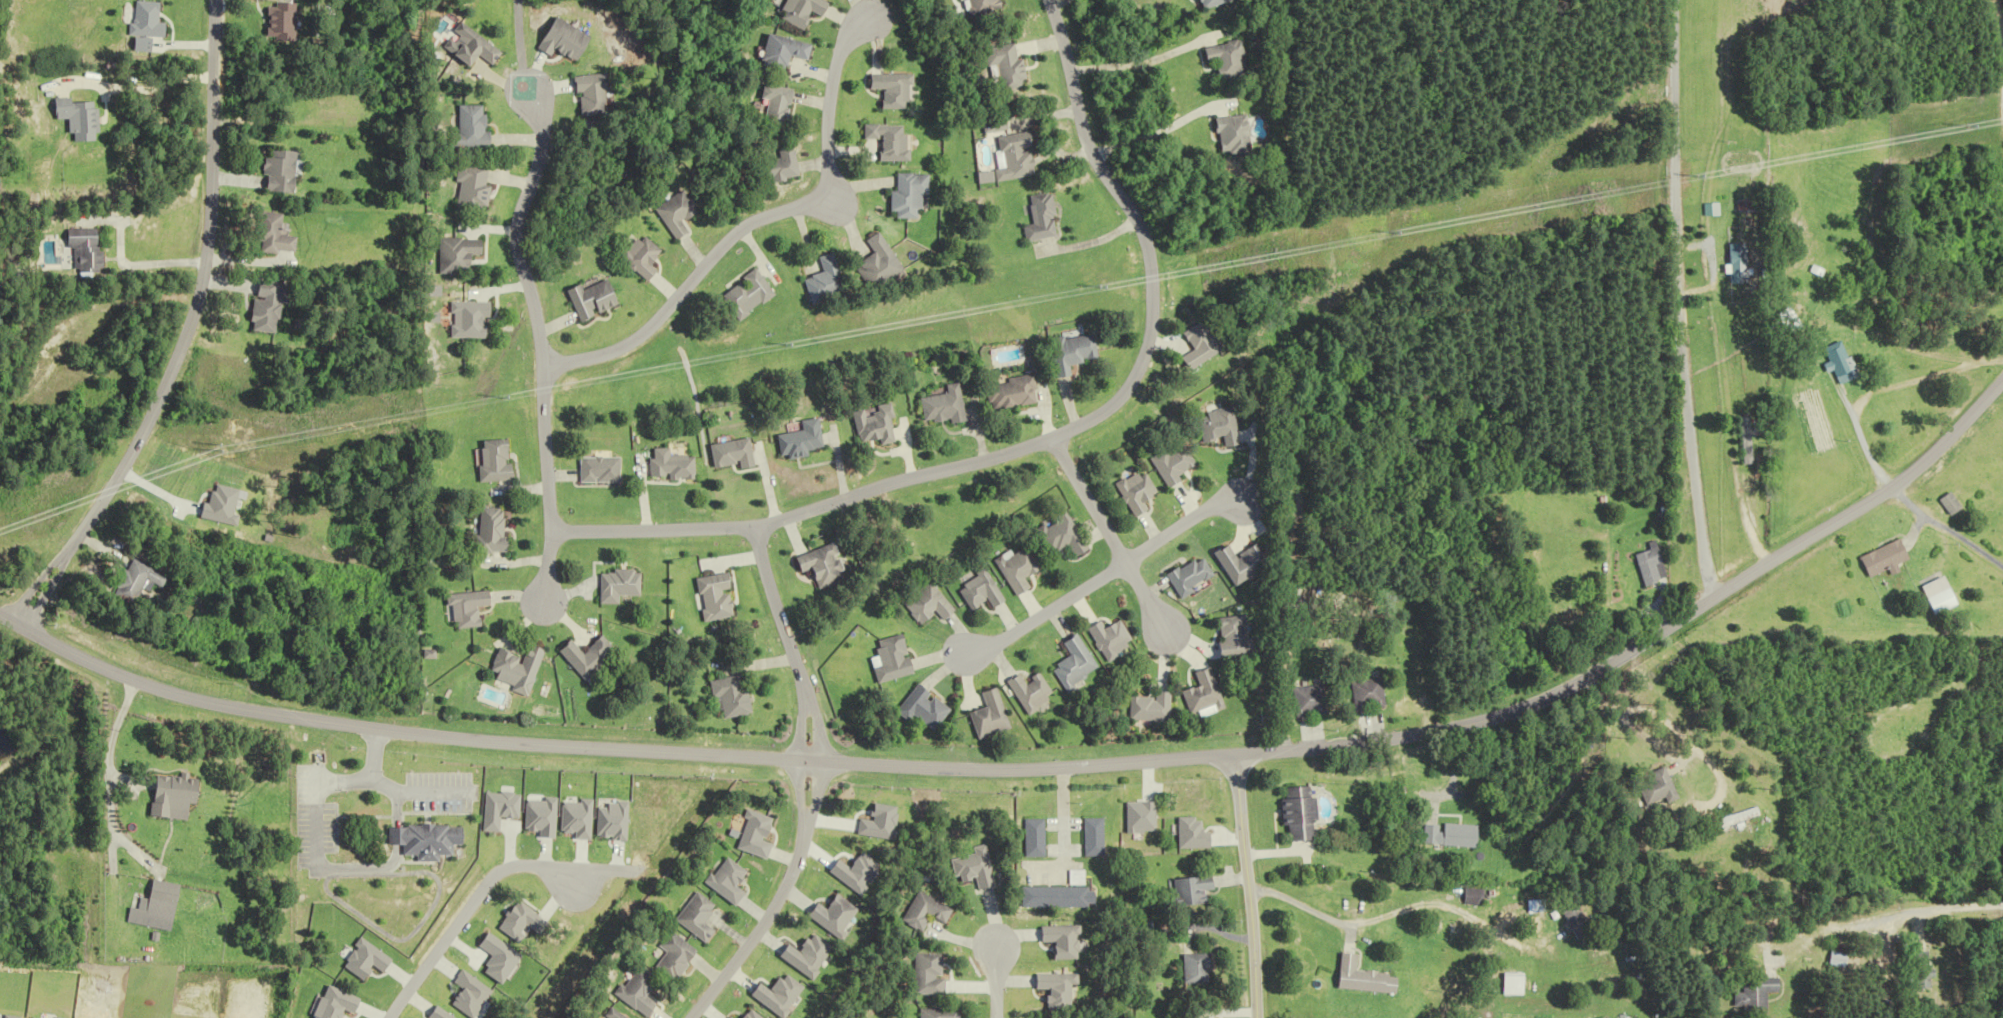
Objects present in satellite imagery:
building: (1208, 3)
building: (979, 7)
building: (805, 12)
building: (279, 22)
building: (146, 24)
building: (573, 41)
road: (523, 44)
building: (473, 47)
building: (784, 53)
building: (1223, 59)
building: (1004, 66)
building: (890, 89)
building: (598, 96)
building: (778, 105)
building: (79, 118)
building: (477, 127)
building: (1230, 135)
building: (890, 140)
building: (1016, 157)
building: (778, 164)
building: (282, 171)
building: (477, 190)
building: (909, 194)
building: (676, 214)
road: (749, 218)
building: (1044, 218)
building: (278, 235)
building: (88, 249)
building: (463, 253)
building: (642, 257)
building: (876, 263)
building: (1738, 263)
road: (130, 264)
building: (822, 280)
building: (745, 294)
road: (200, 298)
building: (595, 299)
road: (1682, 300)
building: (269, 306)
building: (475, 320)
road: (537, 344)
building: (1198, 347)
building: (1070, 352)
building: (1839, 362)
building: (1009, 394)
building: (941, 406)
building: (873, 425)
building: (1218, 427)
road: (1047, 438)
building: (798, 441)
building: (730, 454)
building: (497, 460)
building: (669, 465)
building: (1171, 465)
building: (598, 470)
building: (1135, 492)
building: (1954, 505)
road: (1949, 528)
building: (493, 531)
building: (1062, 535)
road: (1105, 538)
building: (1887, 560)
building: (1241, 564)
building: (822, 565)
building: (1646, 567)
building: (1019, 568)
building: (1189, 577)
road: (1100, 578)
building: (138, 580)
building: (619, 585)
road: (31, 588)
building: (983, 590)
road: (42, 595)
building: (717, 596)
building: (1941, 596)
building: (930, 604)
building: (470, 608)
road: (776, 613)
building: (1112, 638)
building: (1235, 638)
road: (73, 653)
building: (594, 657)
building: (896, 658)
building: (1077, 664)
building: (521, 668)
building: (1034, 692)
building: (1203, 693)
building: (1366, 695)
building: (734, 696)
building: (1310, 700)
building: (926, 707)
building: (1152, 707)
building: (992, 716)
road: (801, 729)
road: (816, 729)
road: (1126, 762)
road: (369, 772)
road: (341, 782)
building: (1658, 788)
road: (800, 789)
road: (815, 791)
road: (440, 792)
building: (177, 796)
building: (1301, 814)
road: (1064, 817)
building: (1743, 818)
building: (1175, 821)
road: (314, 825)
building: (398, 835)
building: (1448, 835)
building: (1096, 836)
building: (1038, 837)
building: (433, 840)
road: (389, 863)
road: (1055, 867)
road: (1247, 885)
building: (1194, 890)
building: (1062, 897)
building: (1471, 897)
road: (470, 901)
building: (162, 906)
building: (928, 910)
building: (697, 916)
building: (1576, 917)
road: (1377, 918)
road: (760, 924)
road: (1869, 927)
building: (676, 955)
building: (1840, 957)
building: (1198, 968)
building: (1925, 970)
building: (931, 973)
building: (1364, 977)
road: (998, 981)
building: (1515, 985)
building: (1756, 995)
building: (943, 1013)

